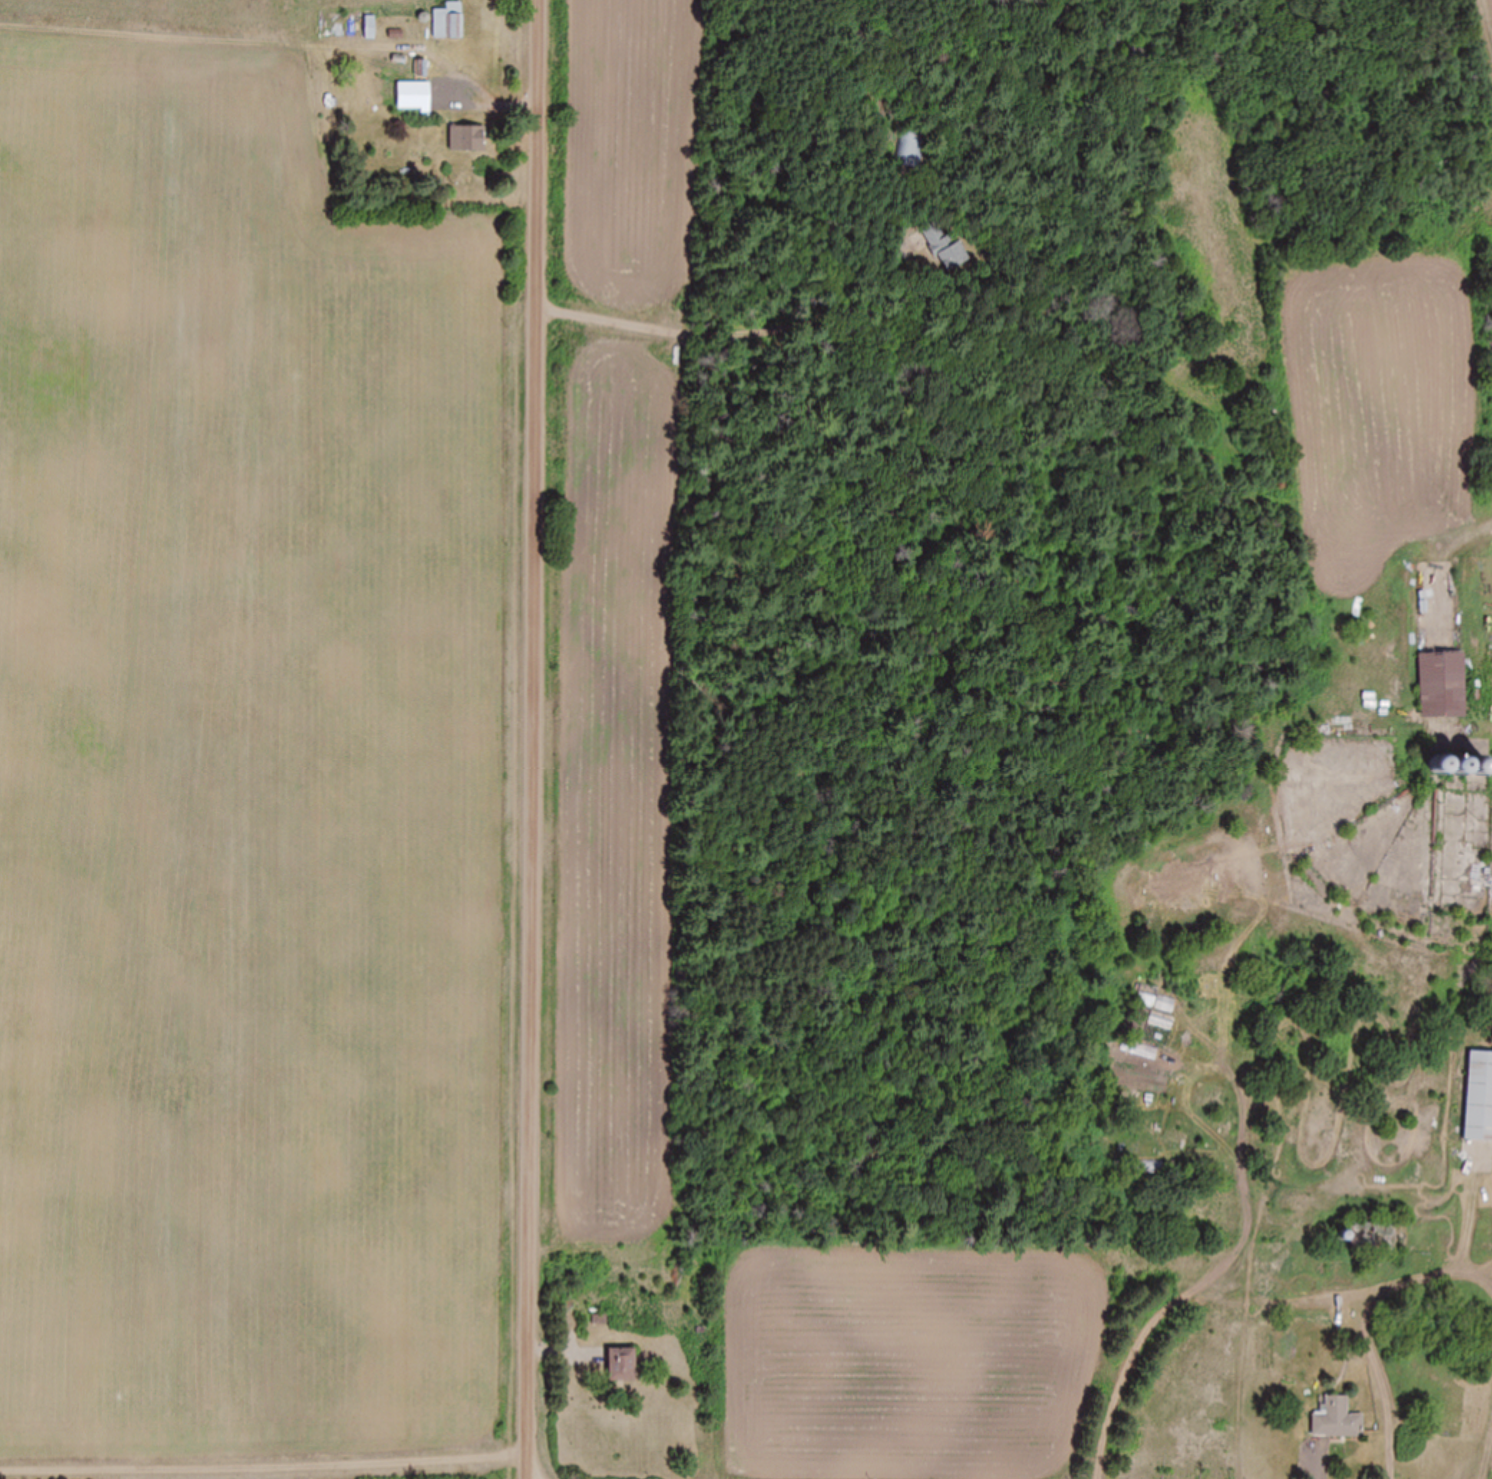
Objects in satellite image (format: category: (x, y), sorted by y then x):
building: (448, 22)
building: (355, 25)
building: (397, 65)
building: (415, 97)
building: (466, 140)
building: (885, 140)
building: (910, 148)
building: (944, 247)
building: (1441, 684)
road: (531, 739)
building: (1457, 764)
road: (718, 1066)
building: (1479, 1097)
building: (1375, 1237)
building: (620, 1365)
building: (1337, 1421)

